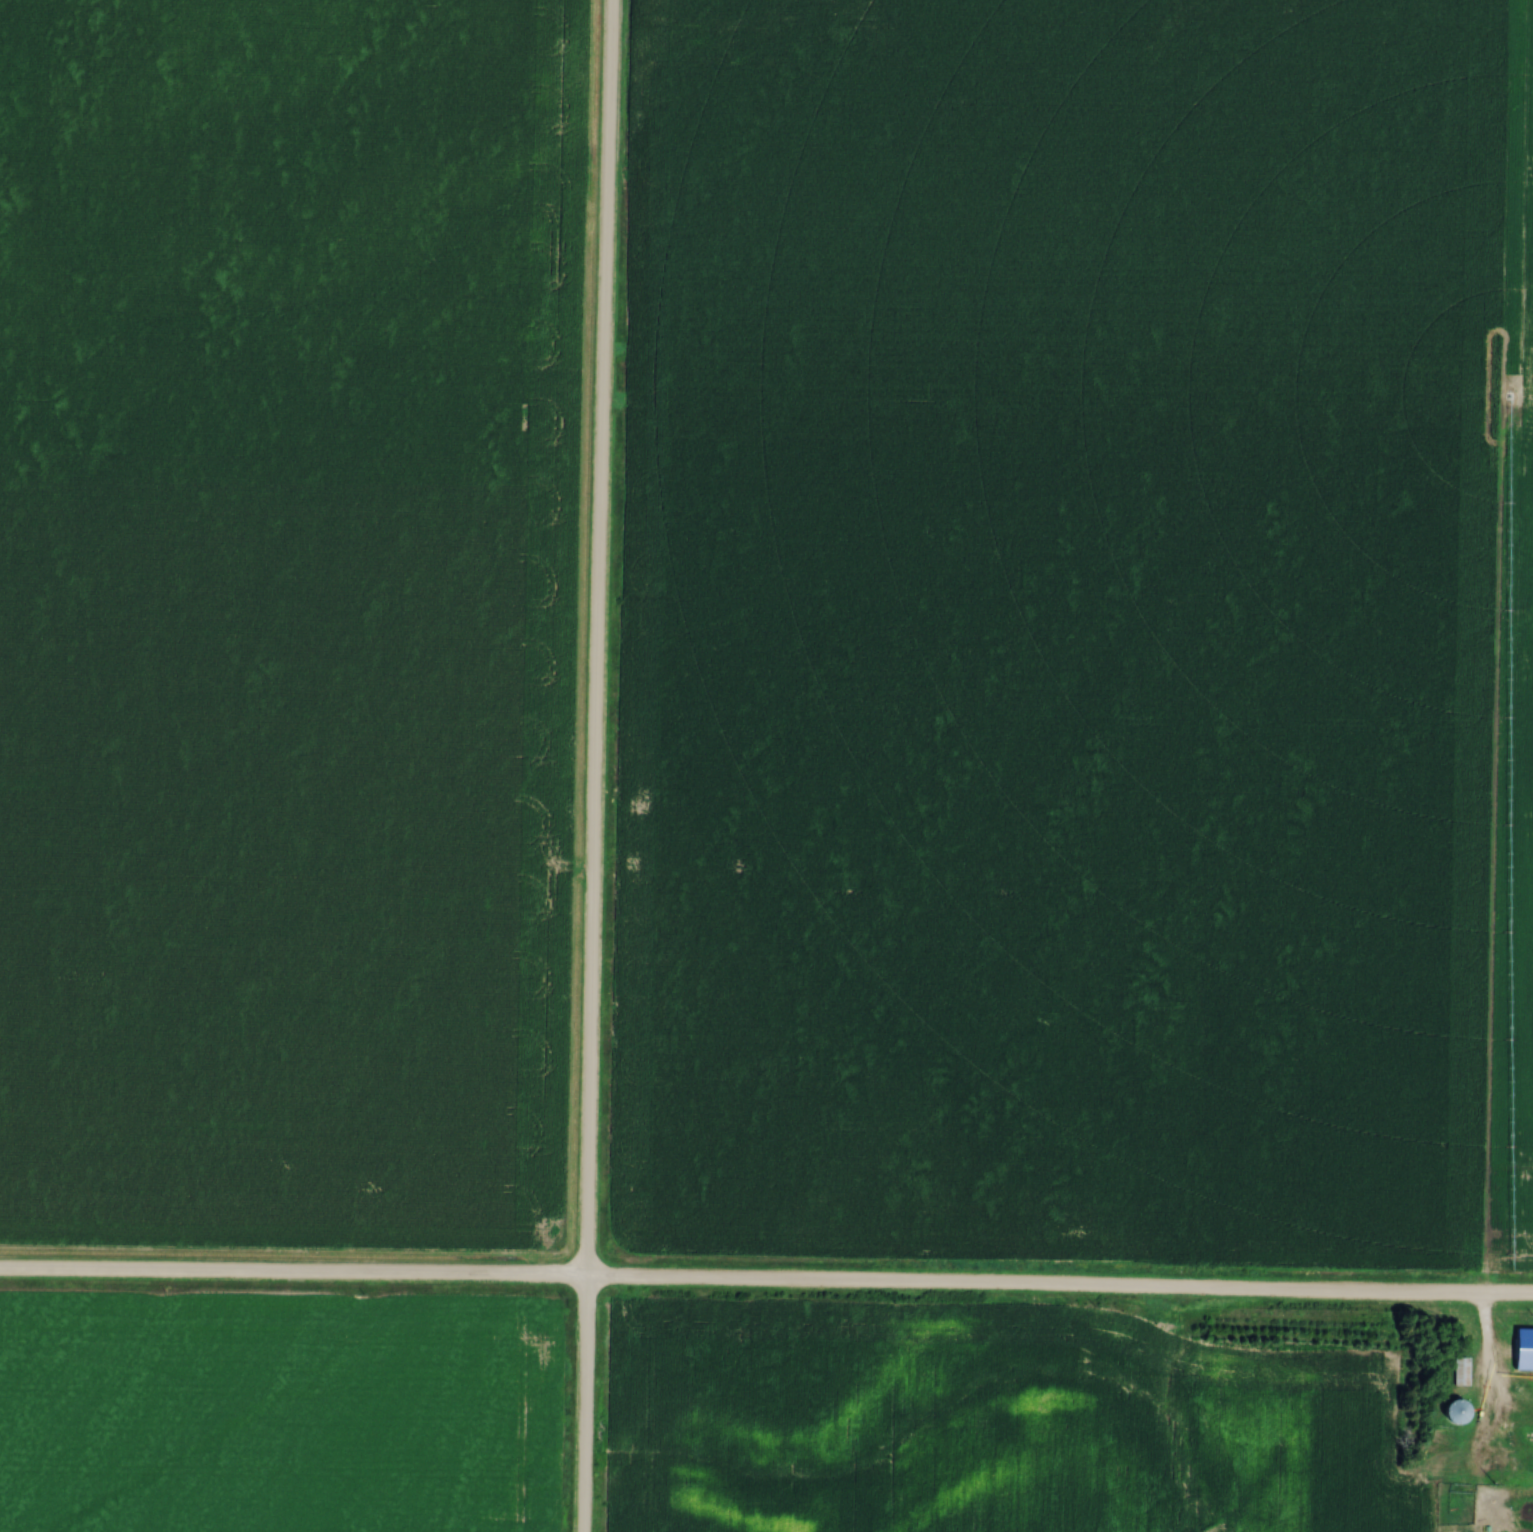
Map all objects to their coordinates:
road: (595, 765)
road: (766, 1284)
building: (1460, 1370)
road: (1487, 1384)
building: (1451, 1410)
building: (1452, 1531)

